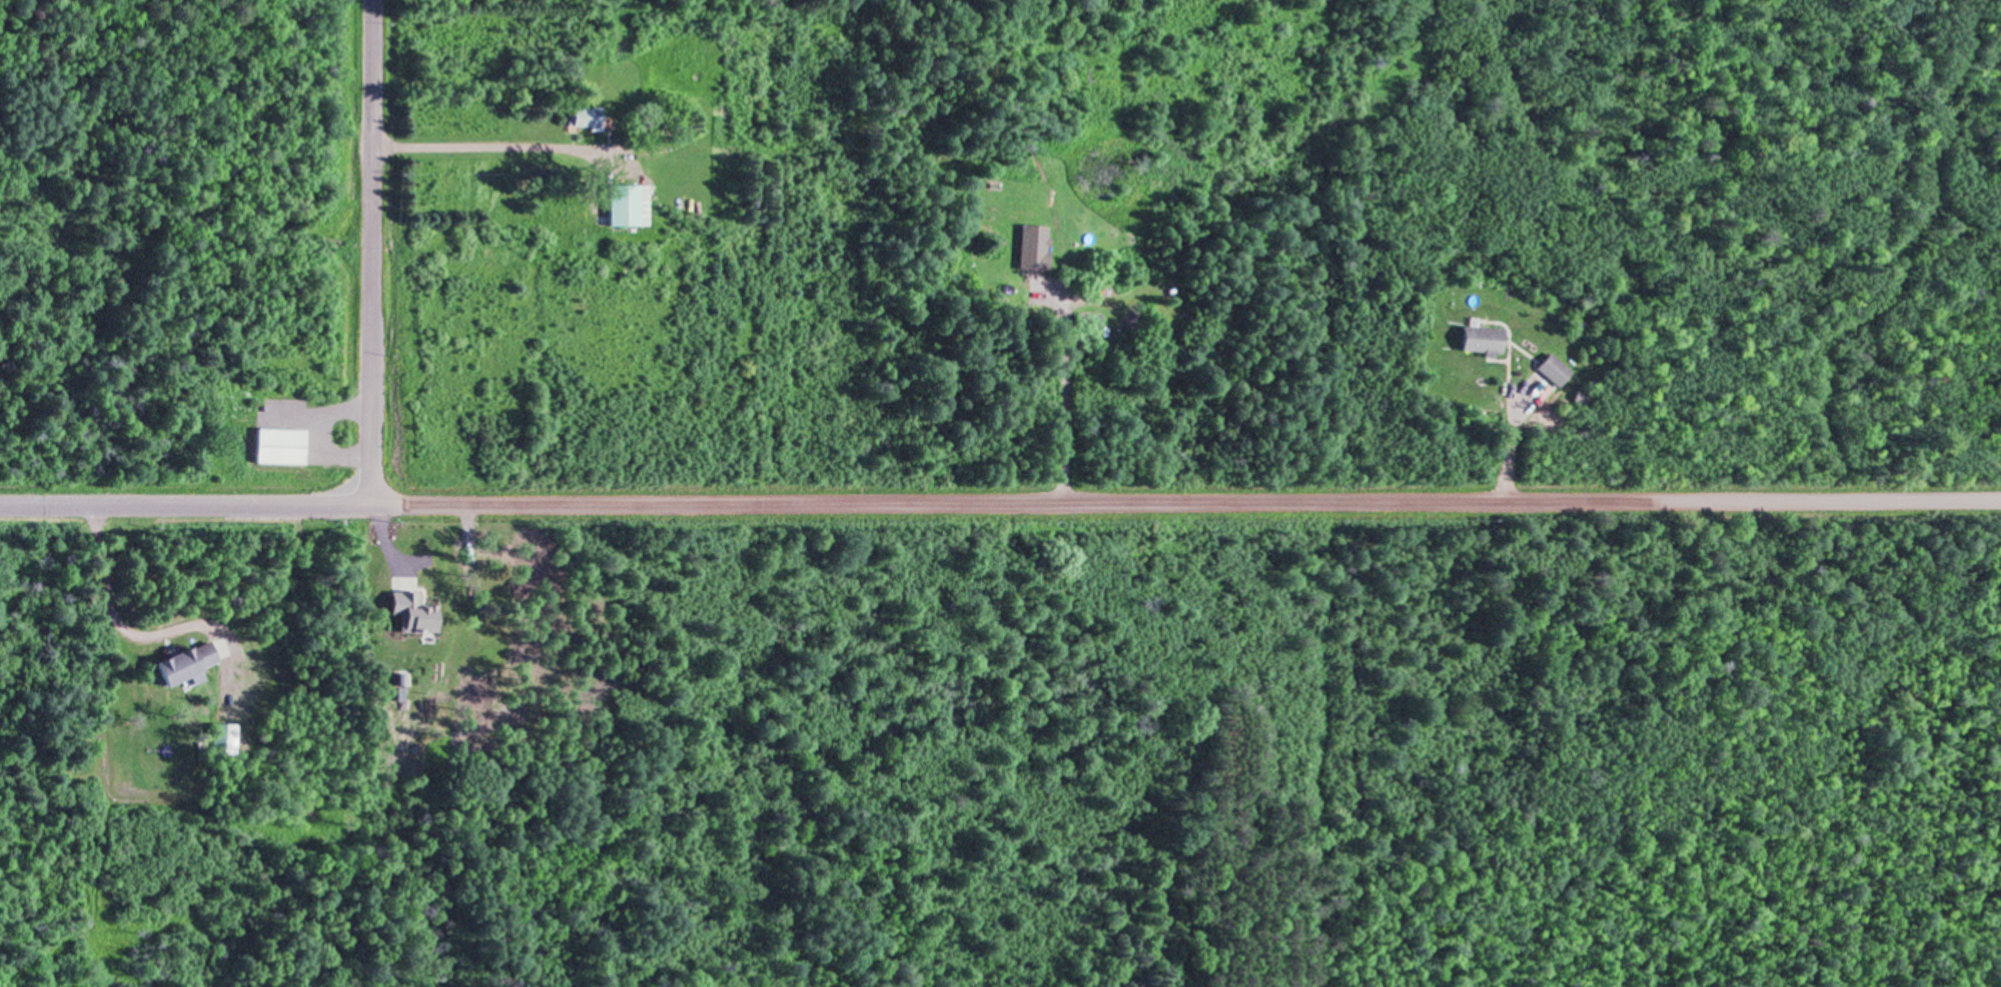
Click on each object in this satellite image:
building: (582, 116)
park: (150, 167)
building: (626, 204)
building: (1032, 246)
road: (371, 251)
building: (1085, 320)
building: (1480, 339)
building: (1553, 369)
building: (278, 444)
road: (201, 505)
road: (1201, 506)
building: (413, 611)
building: (186, 662)
building: (401, 685)
building: (225, 737)

